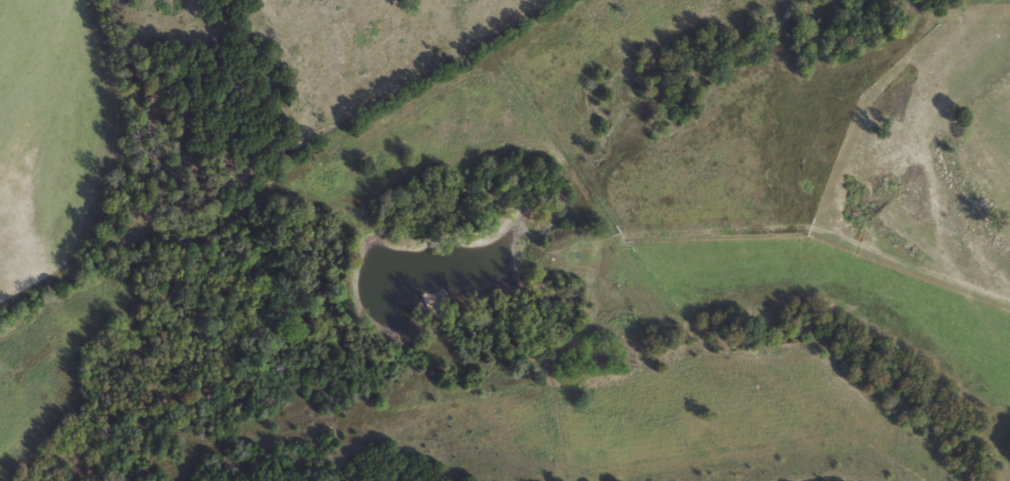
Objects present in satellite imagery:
road: (819, 234)

